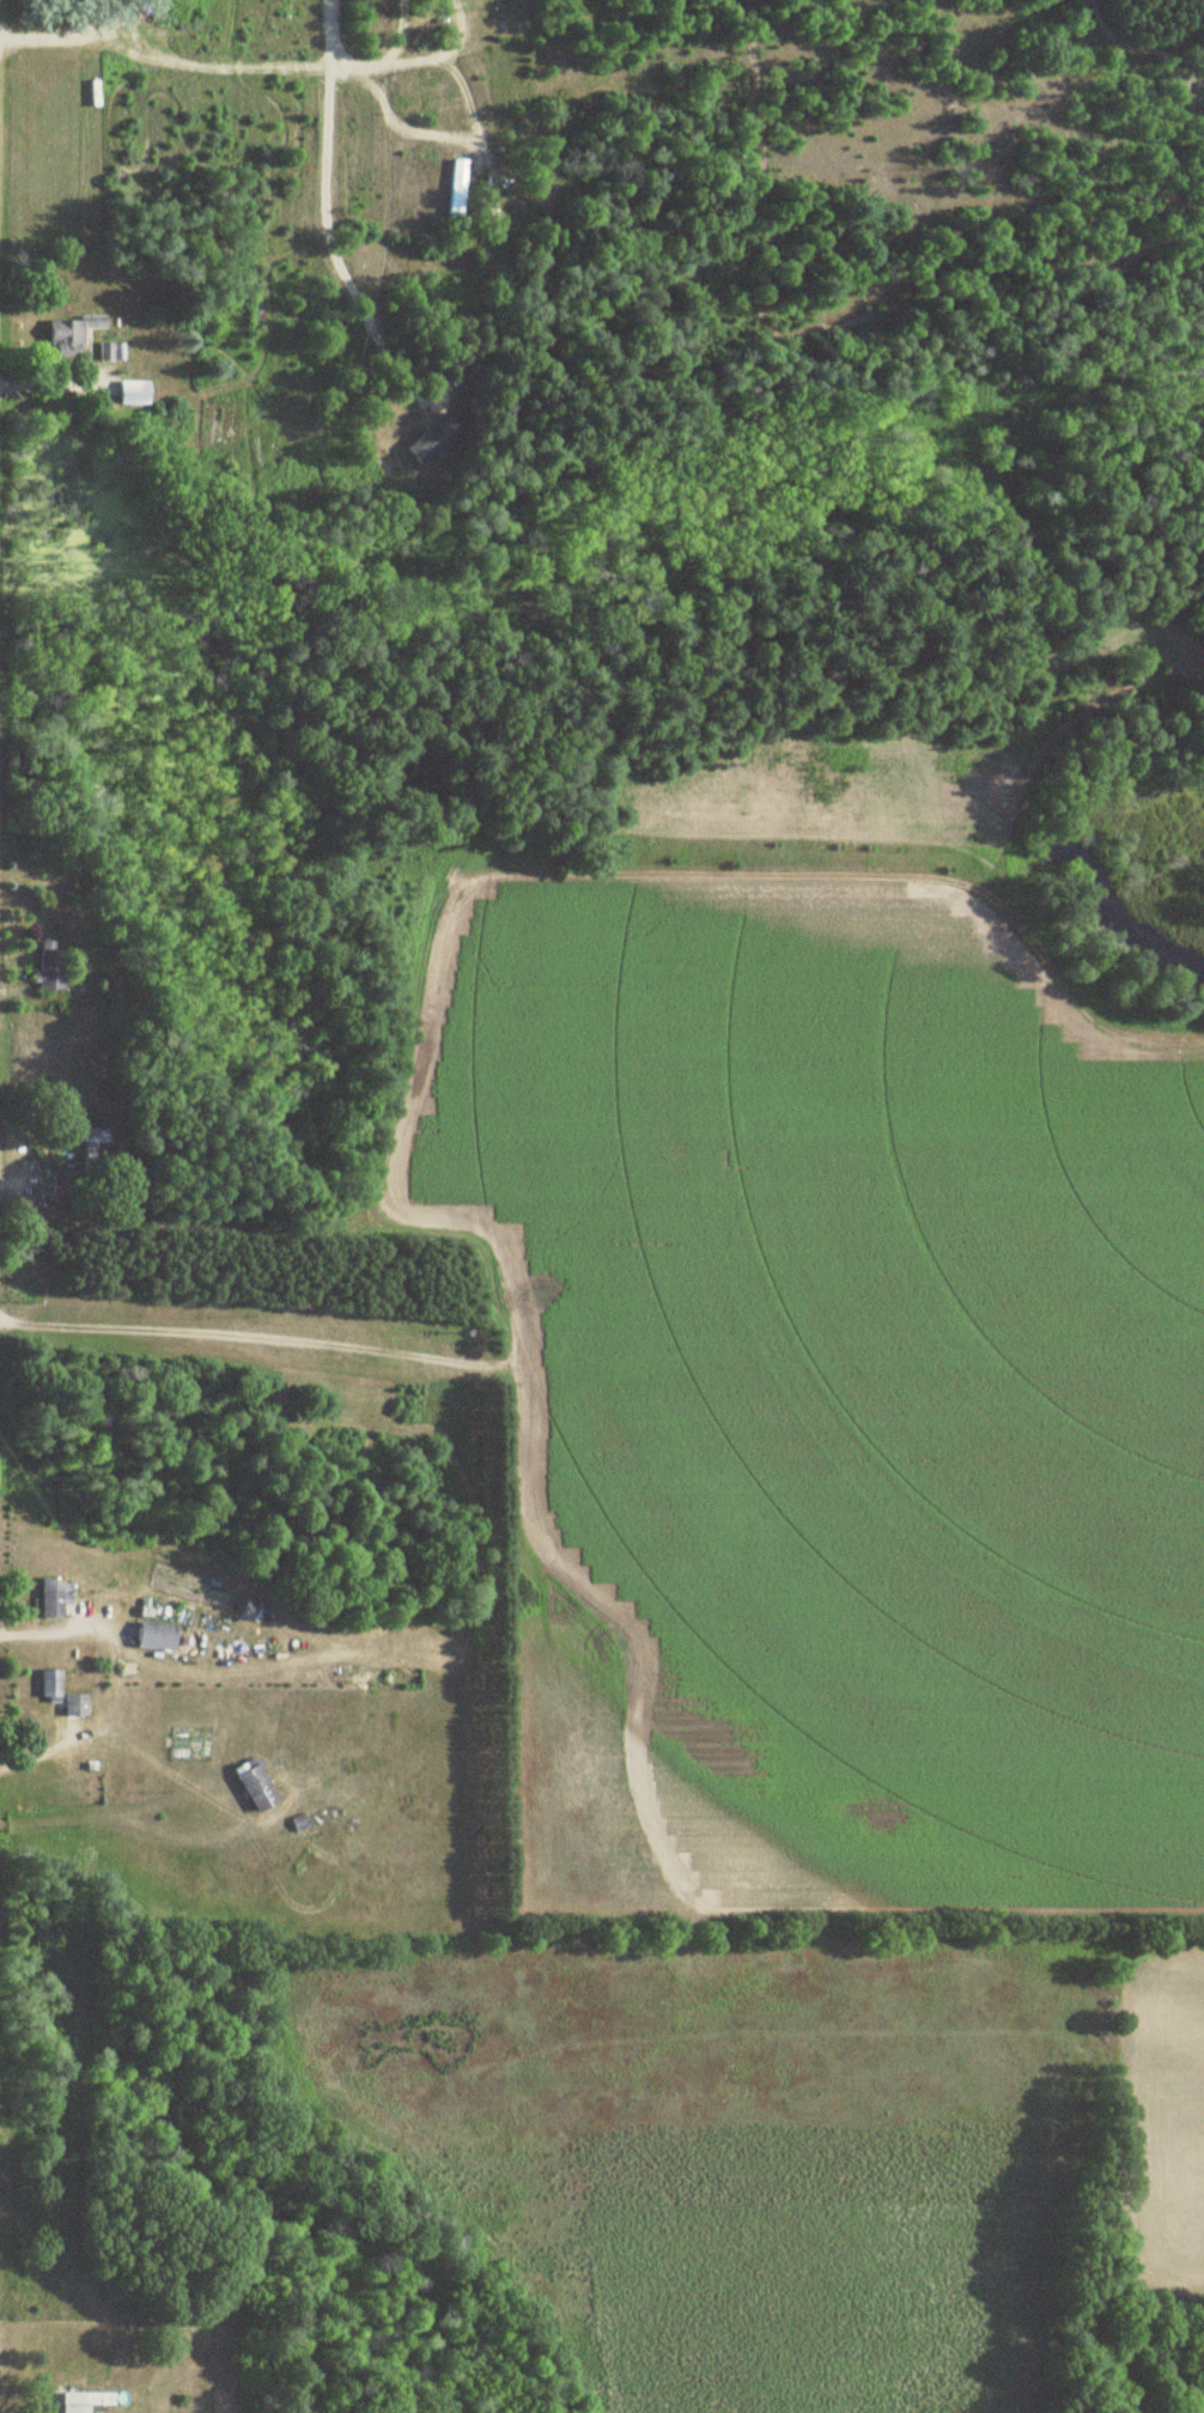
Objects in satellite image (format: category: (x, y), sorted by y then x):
road: (397, 31)
road: (181, 57)
building: (451, 188)
road: (320, 217)
road: (468, 250)
building: (66, 336)
building: (111, 352)
building: (129, 393)
building: (431, 439)
building: (45, 966)
building: (49, 1596)
road: (44, 1633)
building: (150, 1635)
building: (44, 1683)
building: (71, 1703)
road: (38, 1752)
building: (250, 1786)
building: (80, 2401)

